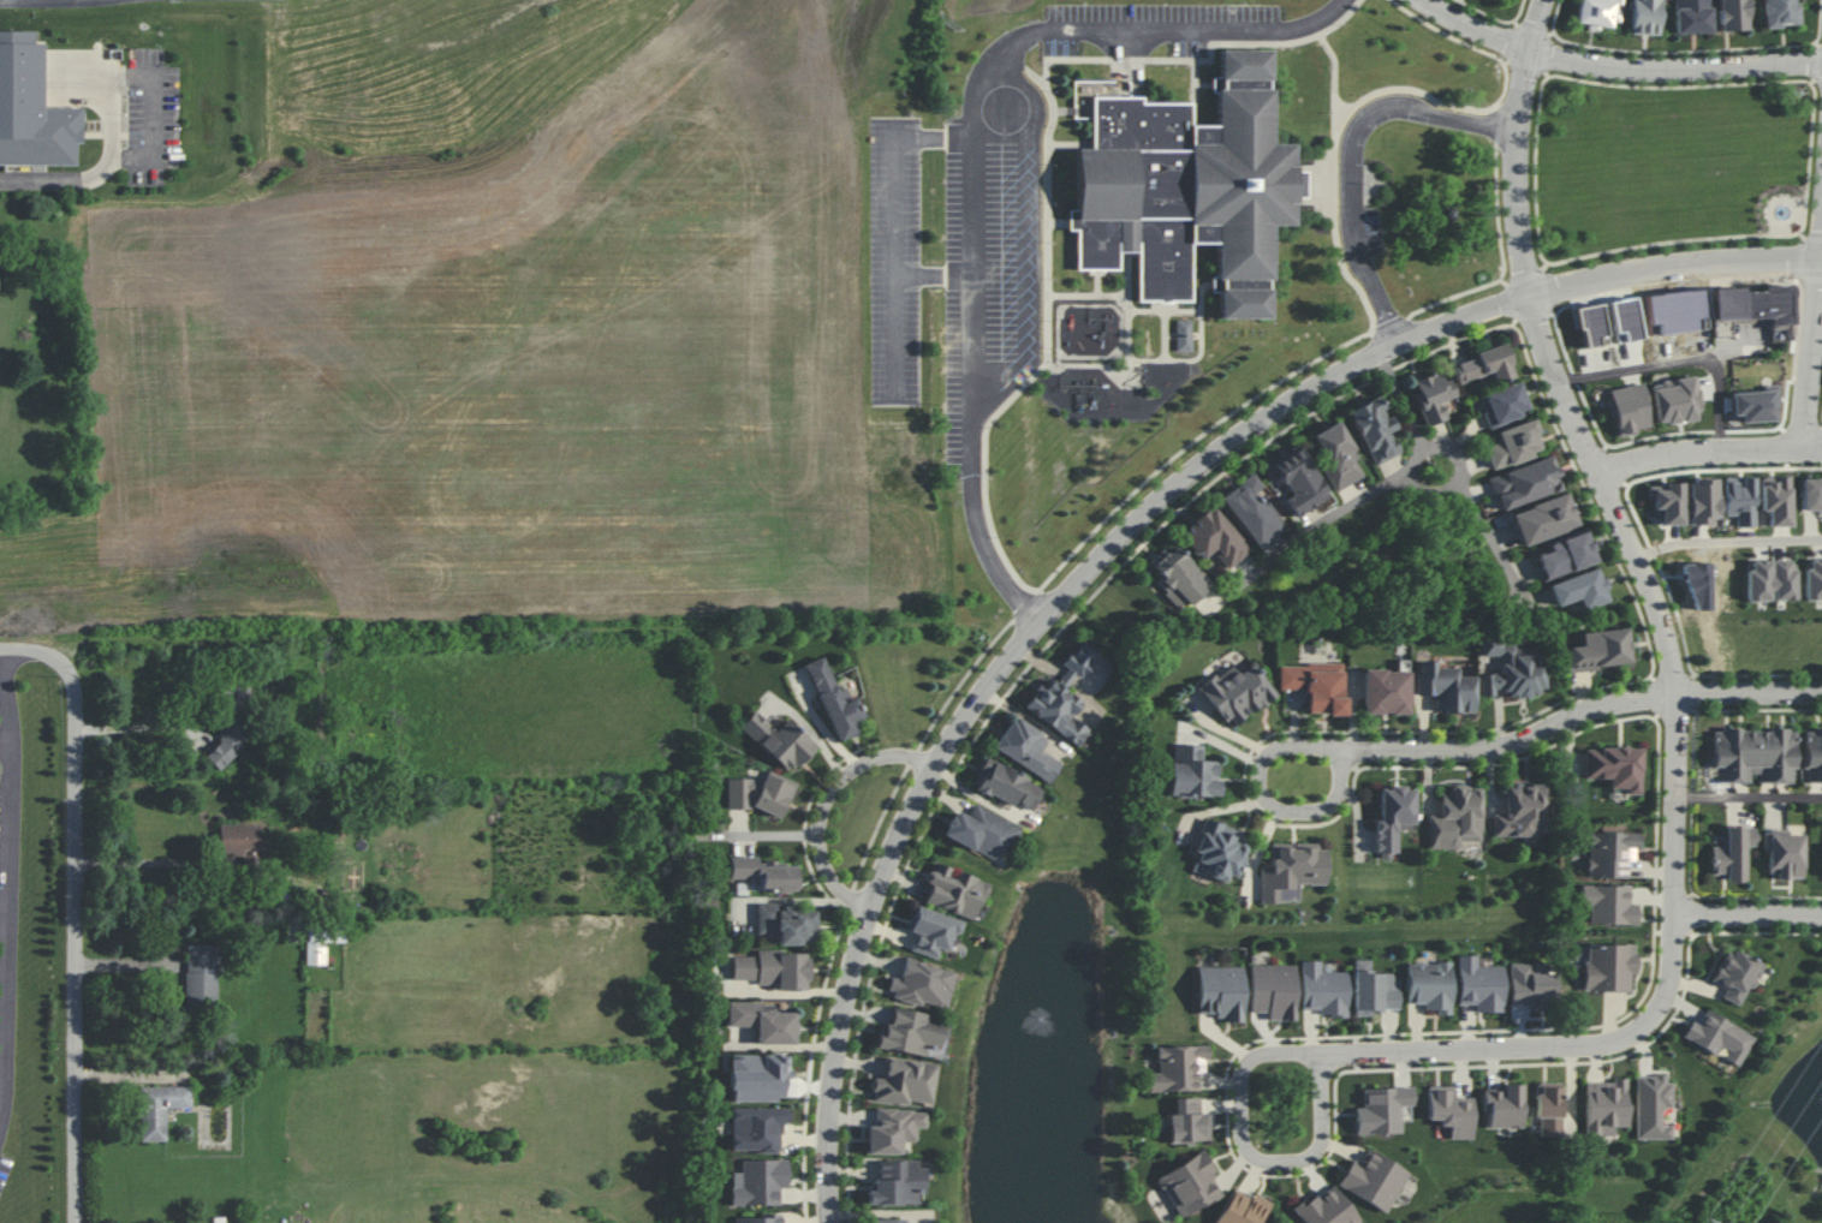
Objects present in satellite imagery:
building: (1598, 13)
building: (1780, 13)
building: (1732, 14)
building: (1692, 16)
building: (1647, 17)
road: (1619, 67)
road: (150, 77)
road: (1335, 83)
building: (31, 108)
road: (1354, 153)
road: (978, 162)
road: (59, 179)
building: (1189, 189)
road: (894, 223)
road: (1024, 235)
road: (935, 276)
building: (1756, 305)
building: (1625, 320)
building: (1590, 324)
building: (1183, 335)
road: (1679, 362)
building: (1484, 364)
road: (1814, 368)
building: (1431, 395)
road: (1401, 399)
building: (1675, 400)
building: (1504, 402)
building: (1629, 408)
building: (1374, 429)
building: (1513, 443)
road: (1417, 451)
road: (1708, 451)
building: (1338, 457)
building: (1297, 481)
building: (1524, 482)
building: (1810, 493)
building: (1702, 500)
building: (1740, 500)
building: (1775, 500)
building: (1667, 502)
building: (1251, 511)
road: (1610, 511)
building: (1543, 519)
road: (1487, 530)
road: (1304, 535)
road: (1125, 536)
building: (1213, 537)
road: (1728, 541)
building: (1564, 555)
building: (1179, 575)
building: (1812, 579)
building: (1769, 580)
building: (1580, 589)
road: (31, 649)
building: (1598, 650)
building: (1512, 668)
building: (1315, 685)
building: (1446, 687)
building: (1235, 692)
building: (1386, 692)
road: (1751, 693)
building: (1062, 696)
building: (834, 700)
road: (137, 724)
building: (778, 740)
building: (226, 741)
building: (1026, 748)
road: (1389, 748)
building: (1755, 756)
building: (1812, 756)
building: (1614, 766)
building: (1192, 772)
building: (1006, 784)
building: (739, 793)
building: (773, 794)
road: (1751, 797)
road: (827, 805)
building: (1520, 811)
building: (1393, 817)
building: (1455, 818)
building: (981, 831)
building: (242, 841)
building: (1220, 851)
building: (1610, 853)
building: (1732, 853)
building: (1784, 853)
road: (144, 860)
building: (1292, 871)
building: (763, 873)
building: (954, 890)
road: (5, 891)
building: (1608, 903)
road: (1750, 914)
building: (787, 923)
building: (931, 931)
road: (77, 938)
building: (321, 943)
building: (1609, 966)
building: (773, 968)
building: (201, 972)
road: (1, 973)
building: (1737, 974)
building: (922, 984)
building: (1531, 984)
building: (1430, 985)
building: (1481, 985)
building: (1273, 990)
building: (1323, 990)
building: (1374, 990)
building: (1220, 991)
building: (764, 1021)
road: (1, 1032)
building: (911, 1032)
building: (1720, 1037)
road: (1321, 1055)
building: (1177, 1068)
building: (758, 1076)
building: (906, 1081)
building: (1548, 1099)
building: (1504, 1106)
building: (1606, 1106)
building: (1653, 1106)
building: (160, 1109)
building: (1382, 1109)
building: (1451, 1111)
building: (1187, 1121)
building: (757, 1128)
building: (894, 1129)
building: (1374, 1180)
building: (758, 1182)
building: (898, 1182)
building: (1190, 1185)
building: (1243, 1209)
building: (1326, 1209)
building: (757, 1219)
building: (888, 1221)

